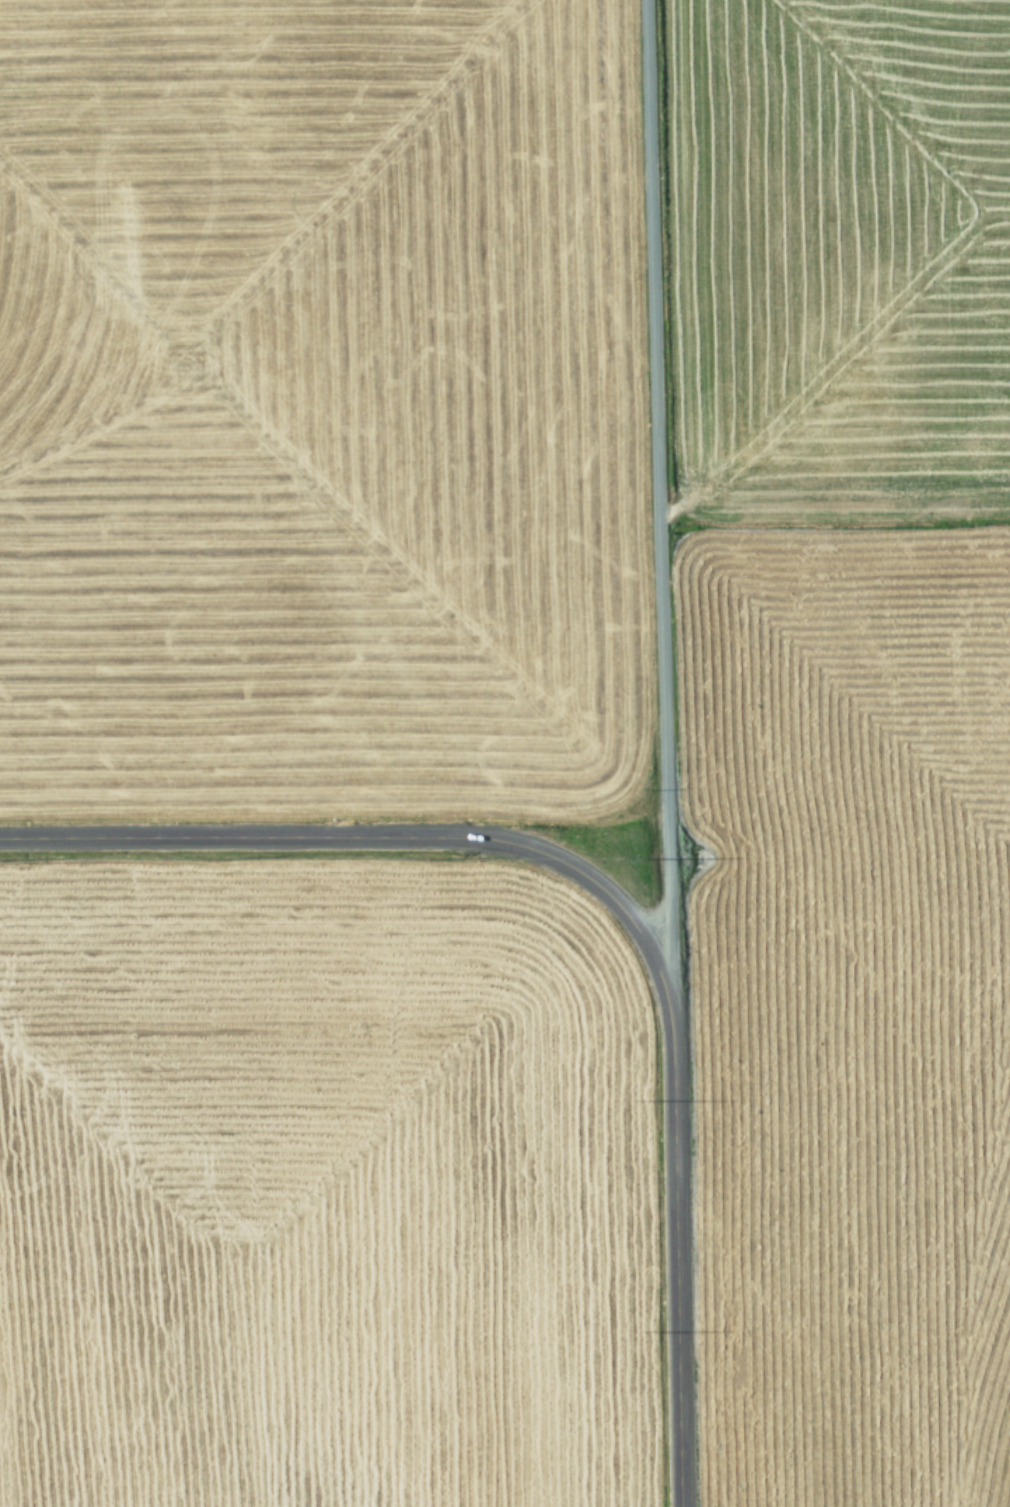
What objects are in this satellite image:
road: (660, 501)
crop: (505, 753)
road: (374, 835)
road: (676, 1254)

